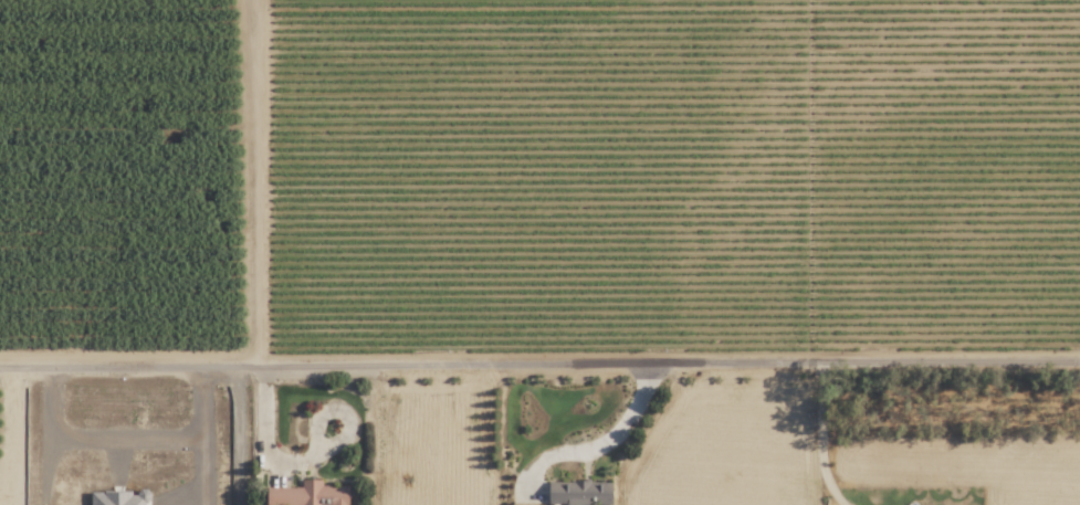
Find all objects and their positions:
crop: (129, 177)
road: (262, 186)
road: (539, 371)
road: (263, 434)
road: (238, 438)
road: (3, 439)
road: (605, 440)
road: (819, 442)
road: (129, 445)
crop: (525, 449)
building: (579, 493)
building: (308, 494)
building: (120, 497)

